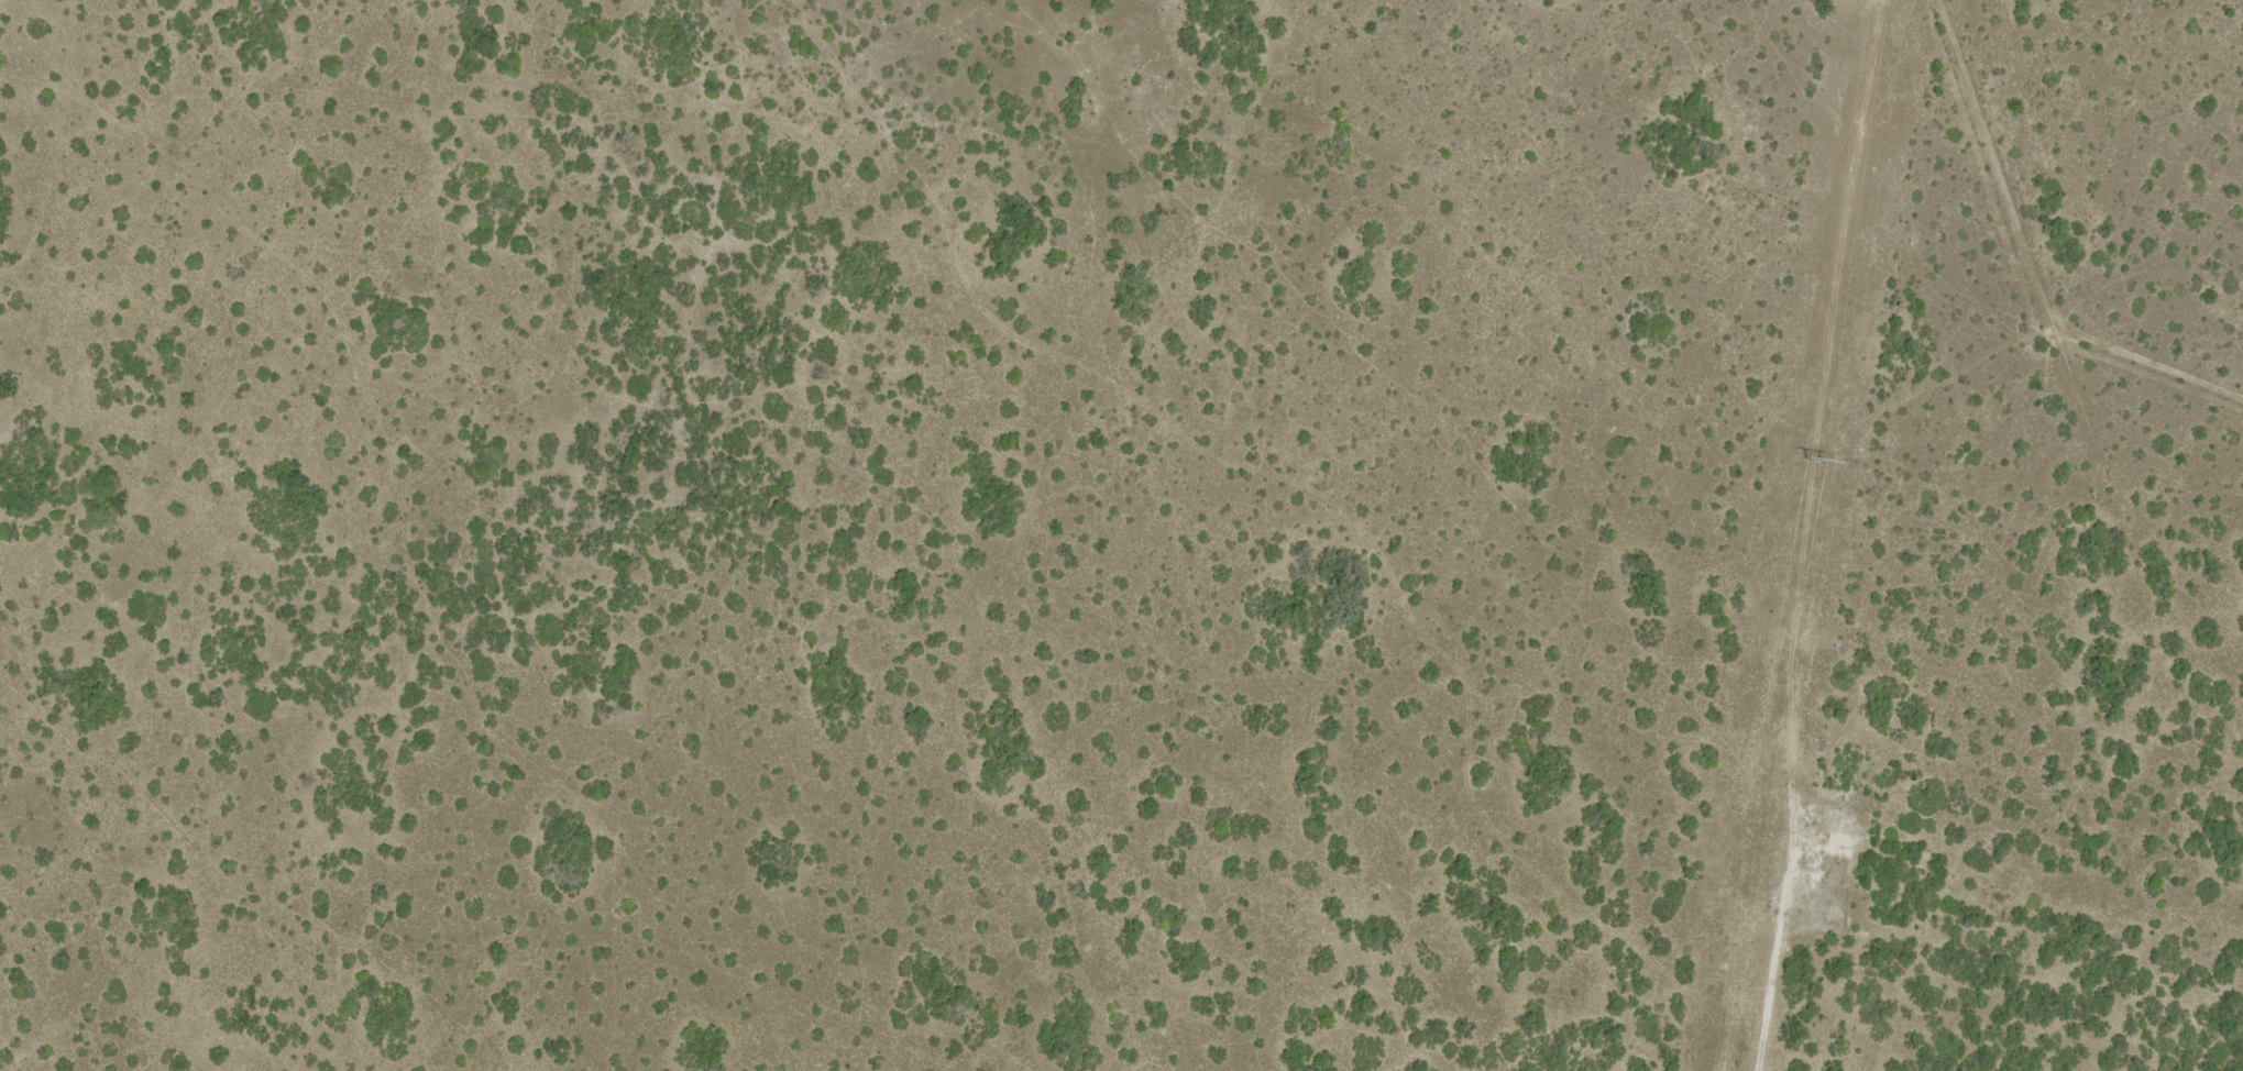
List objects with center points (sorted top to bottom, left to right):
power tower: (1812, 459)

